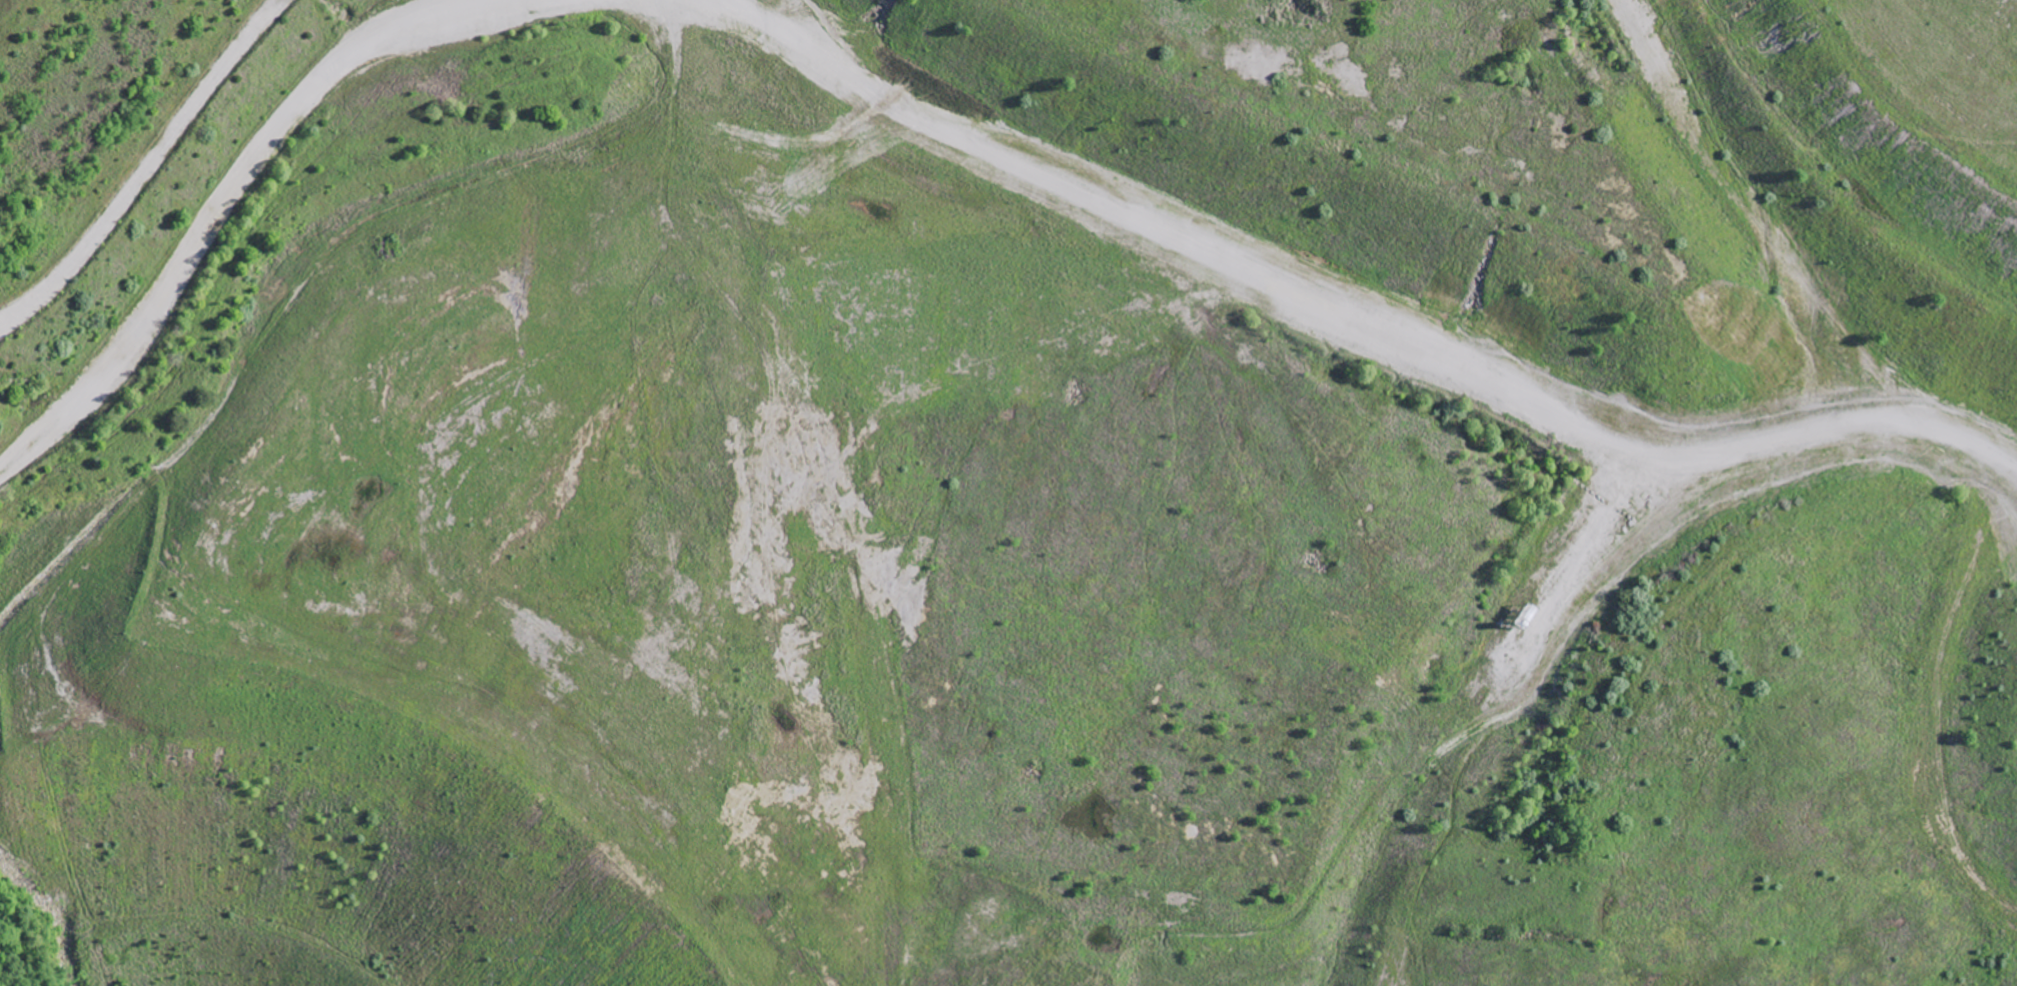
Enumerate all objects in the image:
road: (237, 194)
road: (1274, 339)
quarry: (756, 388)
road: (1485, 717)

